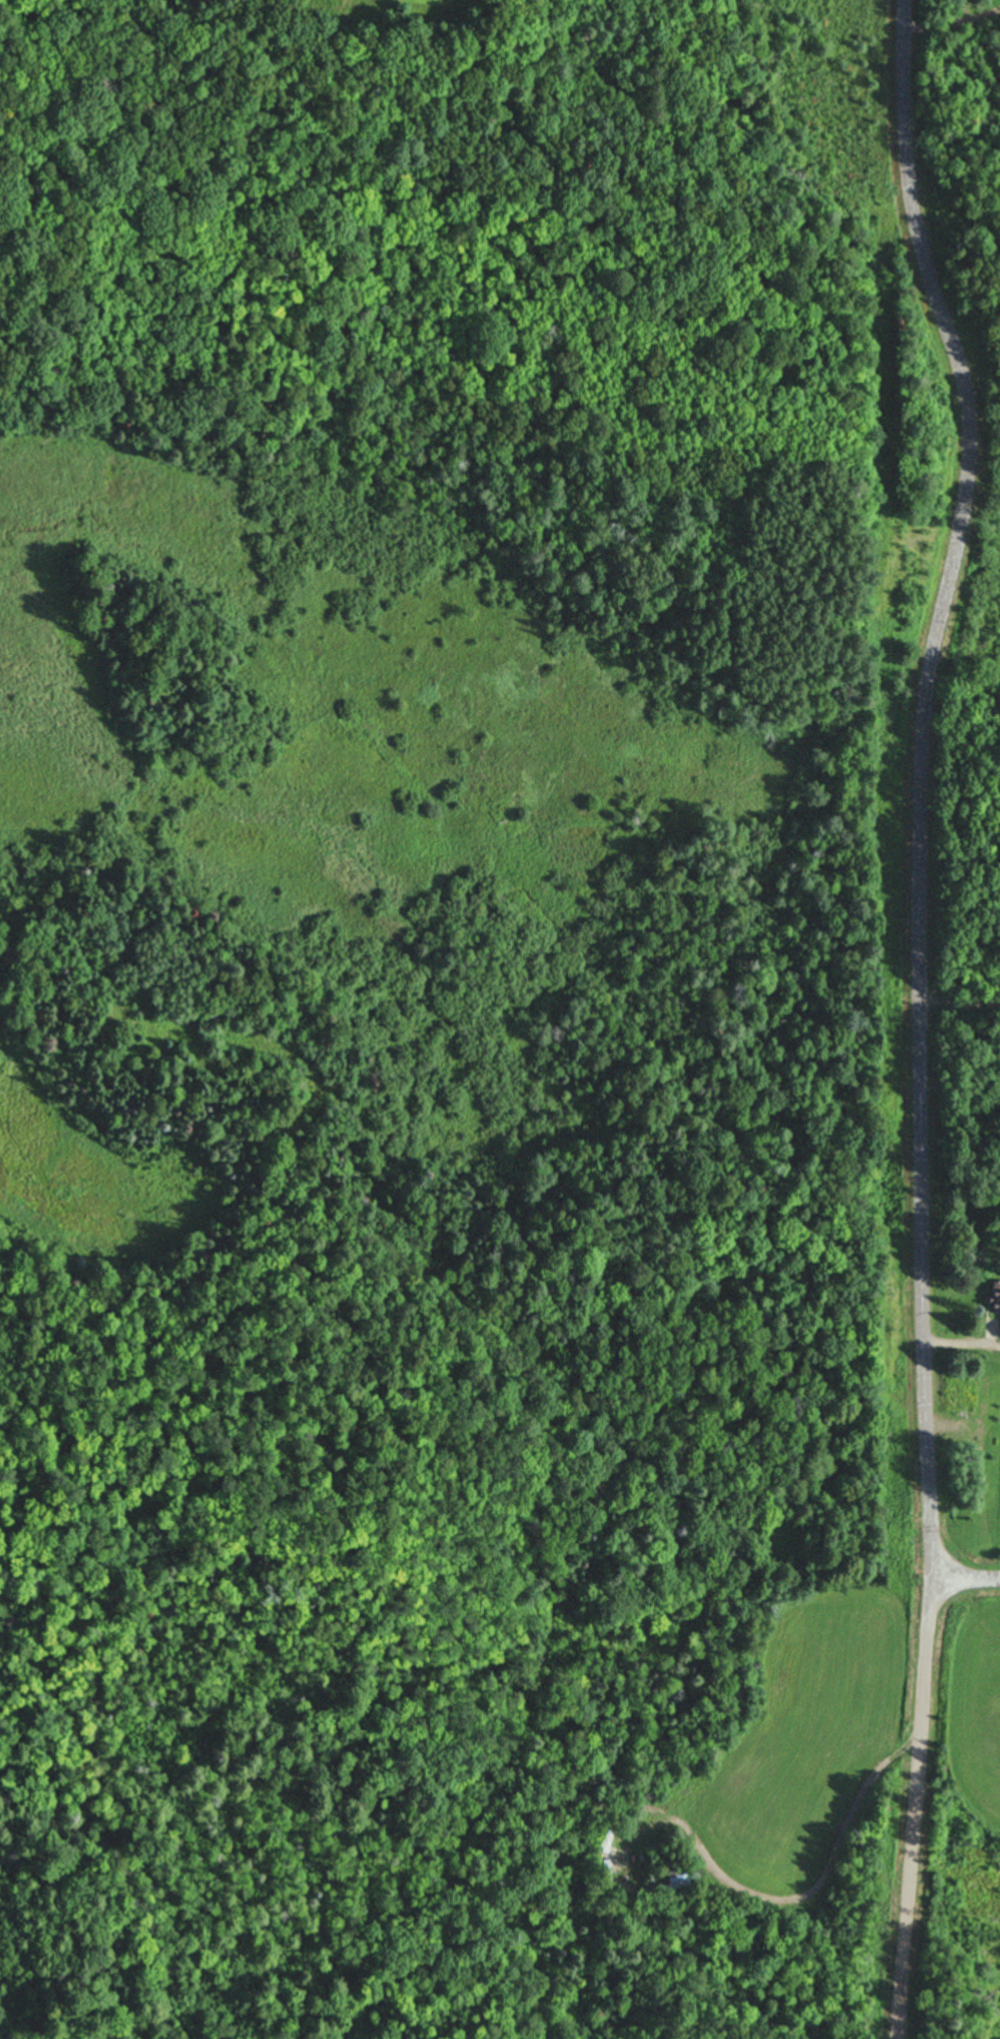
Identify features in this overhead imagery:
road: (927, 775)
building: (995, 1297)
road: (961, 1571)
road: (914, 1805)

